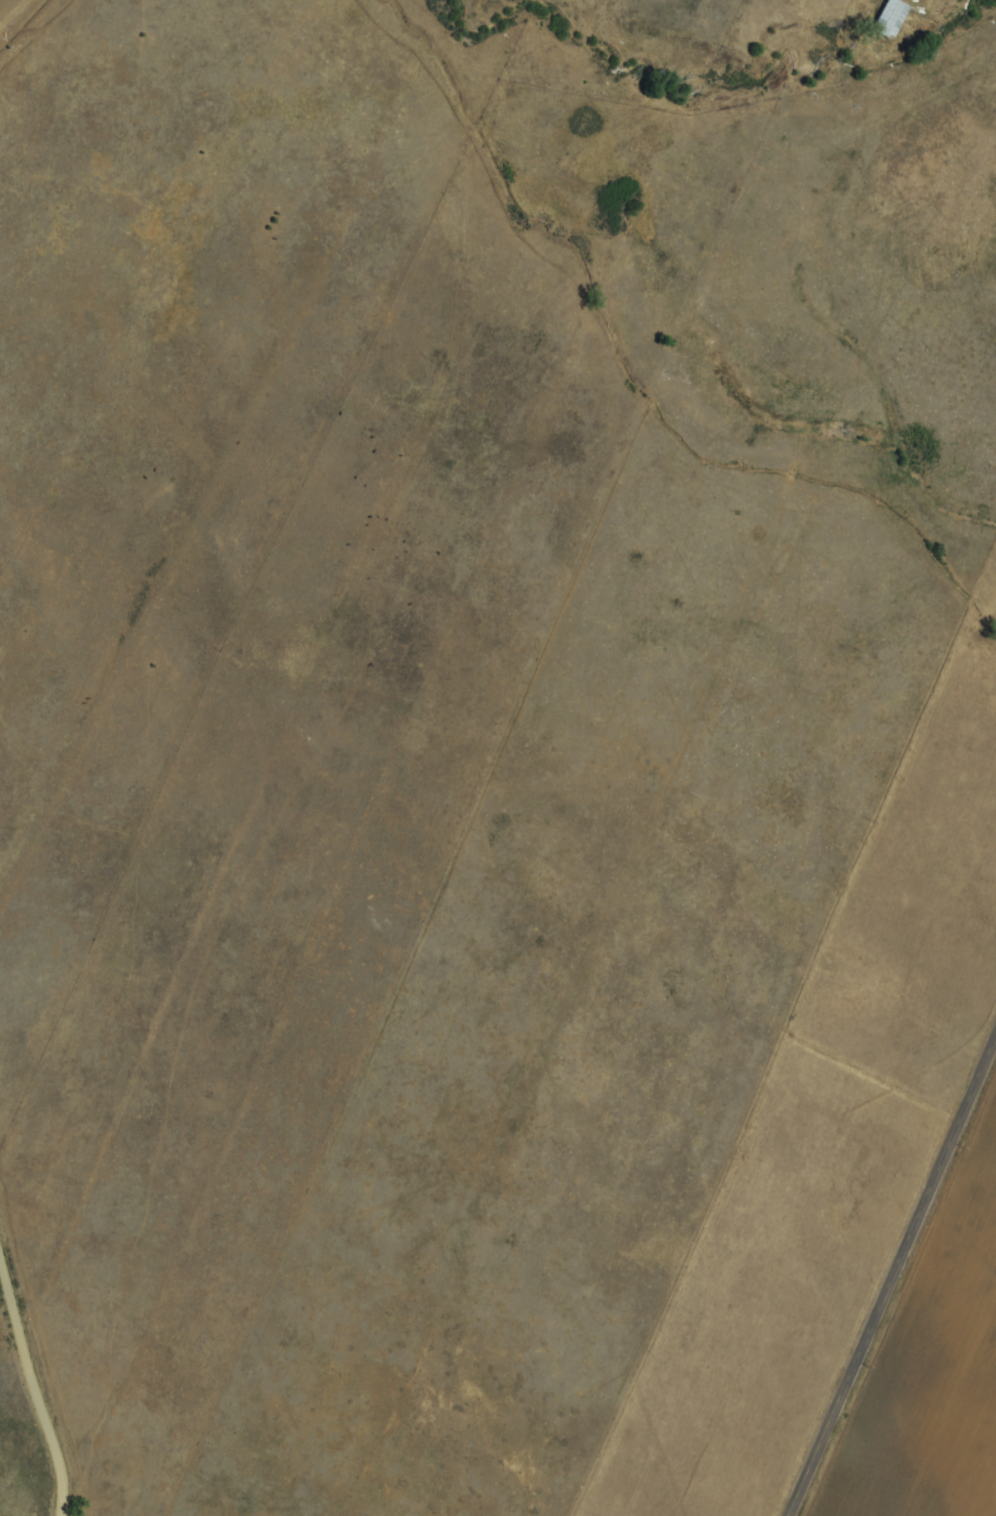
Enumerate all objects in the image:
road: (10, 11)
building: (892, 19)
road: (686, 107)
road: (891, 1273)
road: (24, 1380)

